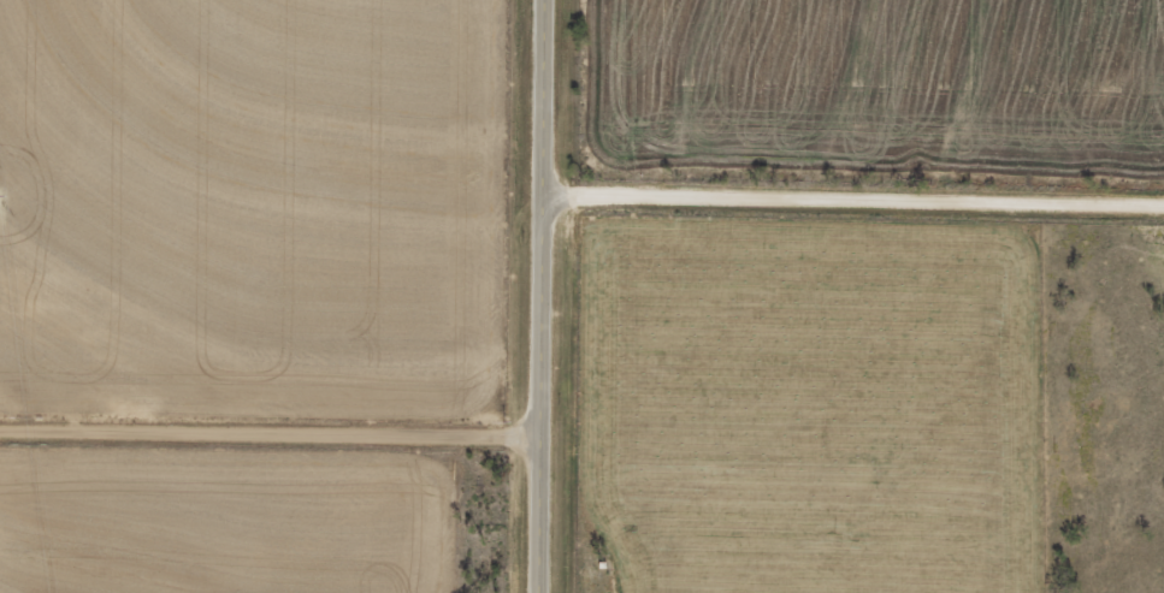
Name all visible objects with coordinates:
road: (841, 225)
road: (543, 296)
road: (271, 440)

